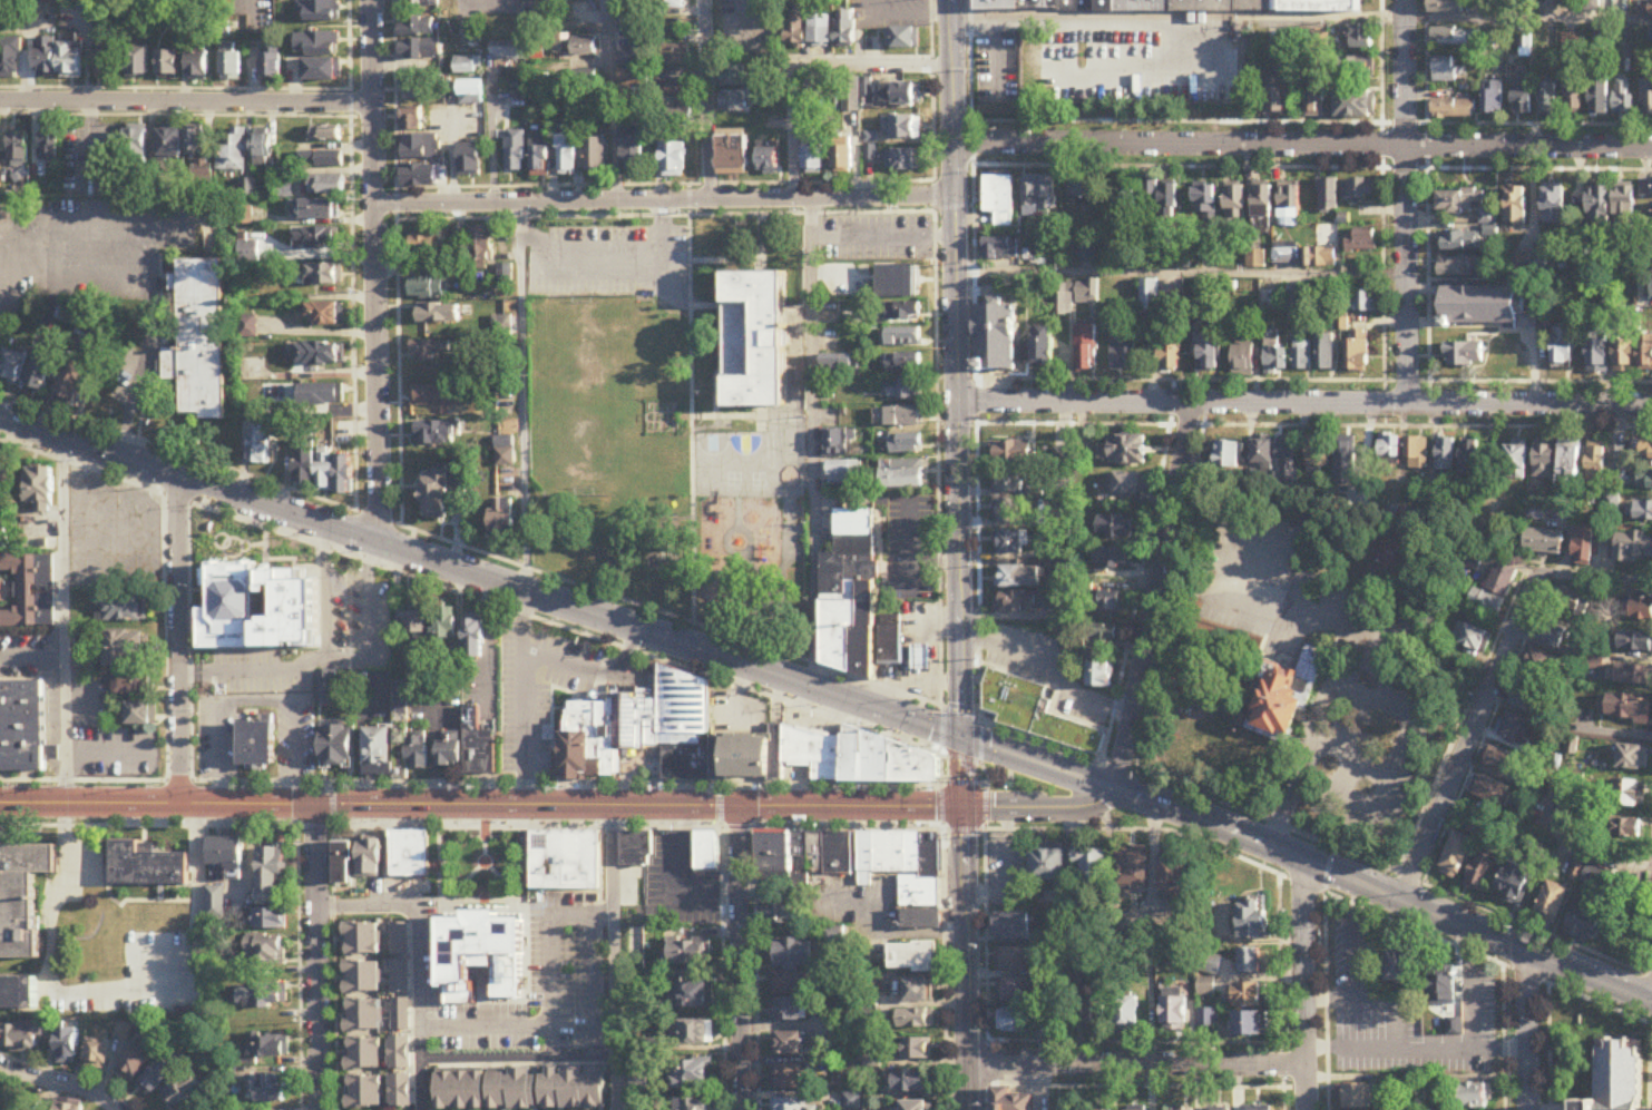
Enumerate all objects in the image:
building: (268, 3)
building: (419, 3)
building: (672, 6)
building: (1141, 6)
building: (1447, 7)
building: (1646, 9)
building: (321, 11)
road: (449, 11)
building: (0, 12)
building: (627, 14)
building: (193, 17)
road: (1528, 19)
road: (1180, 21)
building: (417, 28)
building: (796, 29)
building: (844, 30)
building: (820, 31)
building: (471, 33)
building: (1455, 37)
building: (1282, 38)
building: (1360, 38)
building: (902, 40)
building: (317, 45)
building: (574, 45)
building: (1525, 46)
building: (420, 50)
building: (507, 50)
building: (635, 56)
building: (674, 56)
building: (45, 58)
building: (10, 59)
building: (105, 59)
building: (70, 61)
building: (137, 62)
building: (168, 65)
building: (197, 66)
building: (466, 66)
road: (873, 66)
building: (270, 67)
building: (231, 68)
building: (1362, 68)
building: (322, 71)
building: (1447, 71)
building: (732, 77)
building: (633, 78)
building: (579, 80)
building: (673, 87)
building: (416, 88)
road: (175, 89)
building: (470, 91)
building: (1275, 91)
building: (1573, 95)
building: (851, 96)
building: (897, 96)
building: (1623, 97)
building: (1314, 98)
building: (1522, 98)
building: (1493, 99)
building: (1547, 99)
building: (1600, 99)
building: (1646, 99)
road: (707, 100)
road: (613, 101)
road: (186, 102)
building: (732, 102)
building: (1355, 105)
building: (1454, 109)
building: (675, 115)
road: (176, 116)
building: (416, 119)
building: (900, 129)
road: (794, 132)
building: (325, 135)
road: (452, 139)
building: (50, 141)
building: (170, 146)
road: (1303, 146)
building: (135, 148)
building: (263, 148)
building: (420, 148)
building: (18, 150)
building: (235, 151)
building: (813, 151)
building: (516, 153)
building: (632, 153)
building: (732, 154)
building: (198, 156)
road: (488, 156)
building: (539, 156)
building: (567, 156)
building: (596, 156)
building: (469, 159)
building: (672, 160)
building: (321, 161)
building: (766, 161)
building: (903, 161)
building: (419, 177)
road: (666, 185)
building: (326, 187)
building: (286, 190)
building: (1359, 190)
building: (1651, 190)
building: (1079, 193)
building: (1328, 195)
building: (1151, 196)
building: (1038, 197)
building: (998, 200)
road: (665, 202)
building: (1126, 202)
building: (1169, 202)
road: (1406, 203)
building: (1467, 205)
building: (1234, 206)
building: (1205, 207)
building: (1289, 207)
building: (1516, 207)
building: (1554, 207)
building: (1599, 207)
building: (1262, 208)
building: (1624, 209)
building: (316, 212)
road: (665, 216)
road: (316, 222)
building: (315, 240)
building: (1362, 240)
building: (1460, 243)
building: (429, 244)
building: (481, 246)
parking lot: (88, 247)
building: (1000, 252)
road: (353, 255)
building: (1286, 255)
building: (1087, 256)
building: (460, 258)
building: (1319, 258)
building: (1255, 261)
road: (156, 262)
road: (398, 263)
parking lot: (609, 263)
road: (608, 266)
building: (1519, 266)
building: (1459, 268)
road: (375, 273)
road: (1182, 274)
building: (324, 277)
building: (895, 278)
building: (427, 289)
building: (1651, 292)
building: (1086, 294)
building: (1150, 297)
building: (1064, 302)
building: (1269, 302)
building: (1299, 303)
building: (1361, 303)
building: (1231, 306)
building: (1485, 310)
building: (898, 313)
building: (439, 315)
building: (67, 316)
building: (326, 316)
road: (319, 332)
building: (195, 337)
building: (901, 338)
building: (753, 342)
building: (999, 342)
building: (1042, 348)
building: (1563, 348)
building: (1085, 350)
park: (588, 351)
road: (936, 351)
building: (1358, 351)
building: (432, 352)
building: (1324, 353)
building: (1206, 354)
building: (1645, 355)
building: (321, 356)
building: (1301, 356)
building: (1465, 356)
building: (1599, 356)
building: (1624, 357)
building: (1274, 358)
building: (1122, 360)
building: (1169, 360)
building: (1242, 361)
building: (902, 364)
building: (837, 365)
building: (12, 367)
road: (313, 374)
building: (39, 377)
building: (72, 379)
building: (901, 391)
building: (322, 396)
building: (437, 397)
road: (524, 399)
road: (958, 402)
road: (1304, 405)
building: (903, 418)
road: (691, 420)
building: (434, 435)
building: (837, 444)
road: (813, 445)
building: (906, 445)
building: (1389, 446)
building: (261, 448)
building: (1125, 450)
building: (1645, 451)
building: (1014, 452)
building: (1319, 452)
building: (1416, 453)
park: (571, 454)
building: (1262, 454)
building: (1444, 454)
building: (1228, 455)
building: (506, 456)
building: (1469, 456)
building: (1287, 460)
building: (1545, 461)
building: (1568, 461)
building: (1346, 462)
building: (1515, 462)
building: (1596, 462)
building: (1616, 462)
park: (727, 465)
building: (322, 471)
building: (842, 474)
park: (662, 475)
building: (901, 475)
building: (1642, 479)
building: (1008, 480)
building: (7, 483)
building: (1127, 483)
road: (212, 488)
building: (40, 490)
building: (434, 495)
building: (1008, 510)
building: (1643, 511)
building: (502, 517)
building: (1116, 527)
building: (1488, 533)
building: (3, 536)
building: (1544, 541)
building: (1013, 542)
building: (1584, 544)
building: (1634, 544)
building: (48, 546)
road: (469, 549)
building: (1395, 553)
building: (1473, 559)
building: (1114, 560)
building: (1019, 576)
building: (1503, 579)
building: (31, 591)
road: (1170, 592)
road: (1153, 596)
building: (854, 600)
building: (1018, 601)
building: (1486, 601)
road: (556, 602)
building: (1105, 603)
building: (1571, 603)
building: (258, 607)
building: (125, 608)
building: (1642, 608)
building: (414, 616)
road: (66, 621)
building: (444, 623)
road: (369, 628)
building: (1553, 635)
building: (473, 636)
building: (1472, 637)
road: (167, 639)
building: (1097, 640)
road: (178, 641)
building: (1635, 641)
road: (189, 642)
building: (126, 648)
road: (1370, 650)
road: (33, 656)
building: (920, 657)
road: (314, 659)
road: (1050, 661)
building: (1547, 668)
road: (594, 675)
building: (1634, 675)
building: (1098, 676)
building: (131, 685)
road: (1494, 688)
road: (556, 689)
building: (329, 691)
parking lot: (537, 696)
building: (1287, 698)
road: (522, 699)
road: (256, 701)
road: (788, 703)
road: (940, 706)
building: (661, 709)
building: (1629, 709)
road: (960, 713)
building: (139, 714)
building: (1034, 714)
building: (22, 727)
building: (1515, 728)
road: (940, 729)
road: (218, 735)
traffic signals: (960, 736)
road: (295, 740)
road: (980, 740)
building: (256, 744)
building: (478, 745)
road: (1396, 745)
building: (336, 747)
building: (411, 749)
building: (449, 750)
building: (377, 752)
building: (1632, 757)
building: (824, 758)
road: (958, 758)
building: (1503, 762)
road: (1003, 779)
road: (987, 780)
road: (147, 782)
road: (957, 782)
road: (980, 782)
park: (1014, 783)
road: (985, 785)
road: (222, 788)
building: (1490, 792)
road: (296, 794)
building: (1627, 794)
road: (1148, 800)
road: (333, 805)
road: (940, 805)
traffic signals: (962, 805)
road: (481, 806)
road: (722, 806)
road: (1039, 806)
road: (984, 809)
building: (1475, 826)
road: (470, 828)
road: (962, 829)
building: (1623, 831)
road: (1243, 836)
road: (1318, 839)
building: (635, 849)
building: (707, 852)
building: (410, 854)
building: (804, 855)
building: (226, 856)
building: (1457, 856)
building: (369, 858)
building: (565, 861)
building: (343, 863)
building: (146, 866)
building: (1091, 866)
building: (1047, 867)
building: (1482, 867)
building: (1132, 868)
building: (906, 873)
building: (268, 874)
building: (1173, 878)
building: (1514, 884)
road: (1324, 891)
building: (22, 897)
building: (1552, 903)
building: (216, 904)
building: (782, 913)
building: (1252, 919)
building: (271, 920)
building: (1586, 921)
building: (1011, 927)
road: (1477, 932)
building: (400, 940)
building: (265, 951)
building: (690, 953)
building: (481, 954)
road: (966, 956)
road: (319, 957)
road: (424, 957)
building: (912, 957)
road: (614, 959)
road: (740, 960)
building: (1013, 960)
building: (1250, 962)
building: (1210, 964)
building: (1399, 965)
building: (795, 967)
road: (301, 969)
road: (592, 974)
road: (1303, 984)
building: (1443, 984)
building: (1205, 988)
building: (1013, 990)
road: (1353, 990)
building: (918, 992)
building: (17, 994)
building: (694, 995)
building: (1248, 995)
building: (260, 996)
road: (119, 998)
building: (790, 1010)
road: (1388, 1010)
road: (551, 1012)
building: (1064, 1012)
building: (1096, 1012)
building: (1126, 1013)
building: (1173, 1013)
building: (363, 1015)
building: (1205, 1019)
building: (916, 1020)
building: (1014, 1021)
building: (1250, 1024)
building: (1454, 1026)
road: (1526, 1031)
building: (695, 1032)
building: (400, 1033)
building: (22, 1035)
road: (553, 1043)
building: (790, 1044)
building: (67, 1047)
road: (1429, 1047)
building: (264, 1049)
building: (916, 1050)
building: (98, 1052)
road: (1651, 1054)
road: (1650, 1060)
road: (520, 1061)
building: (135, 1062)
road: (1136, 1064)
building: (692, 1074)
building: (158, 1075)
building: (789, 1078)
building: (1619, 1079)
road: (62, 1082)
building: (910, 1082)
building: (571, 1088)
building: (267, 1089)
building: (460, 1090)
building: (511, 1090)
building: (183, 1091)
building: (1356, 1096)
building: (1475, 1096)
road: (1651, 1098)
building: (1010, 1099)
building: (852, 1102)
building: (694, 1103)
building: (794, 1104)
building: (917, 1106)
building: (67, 1107)

